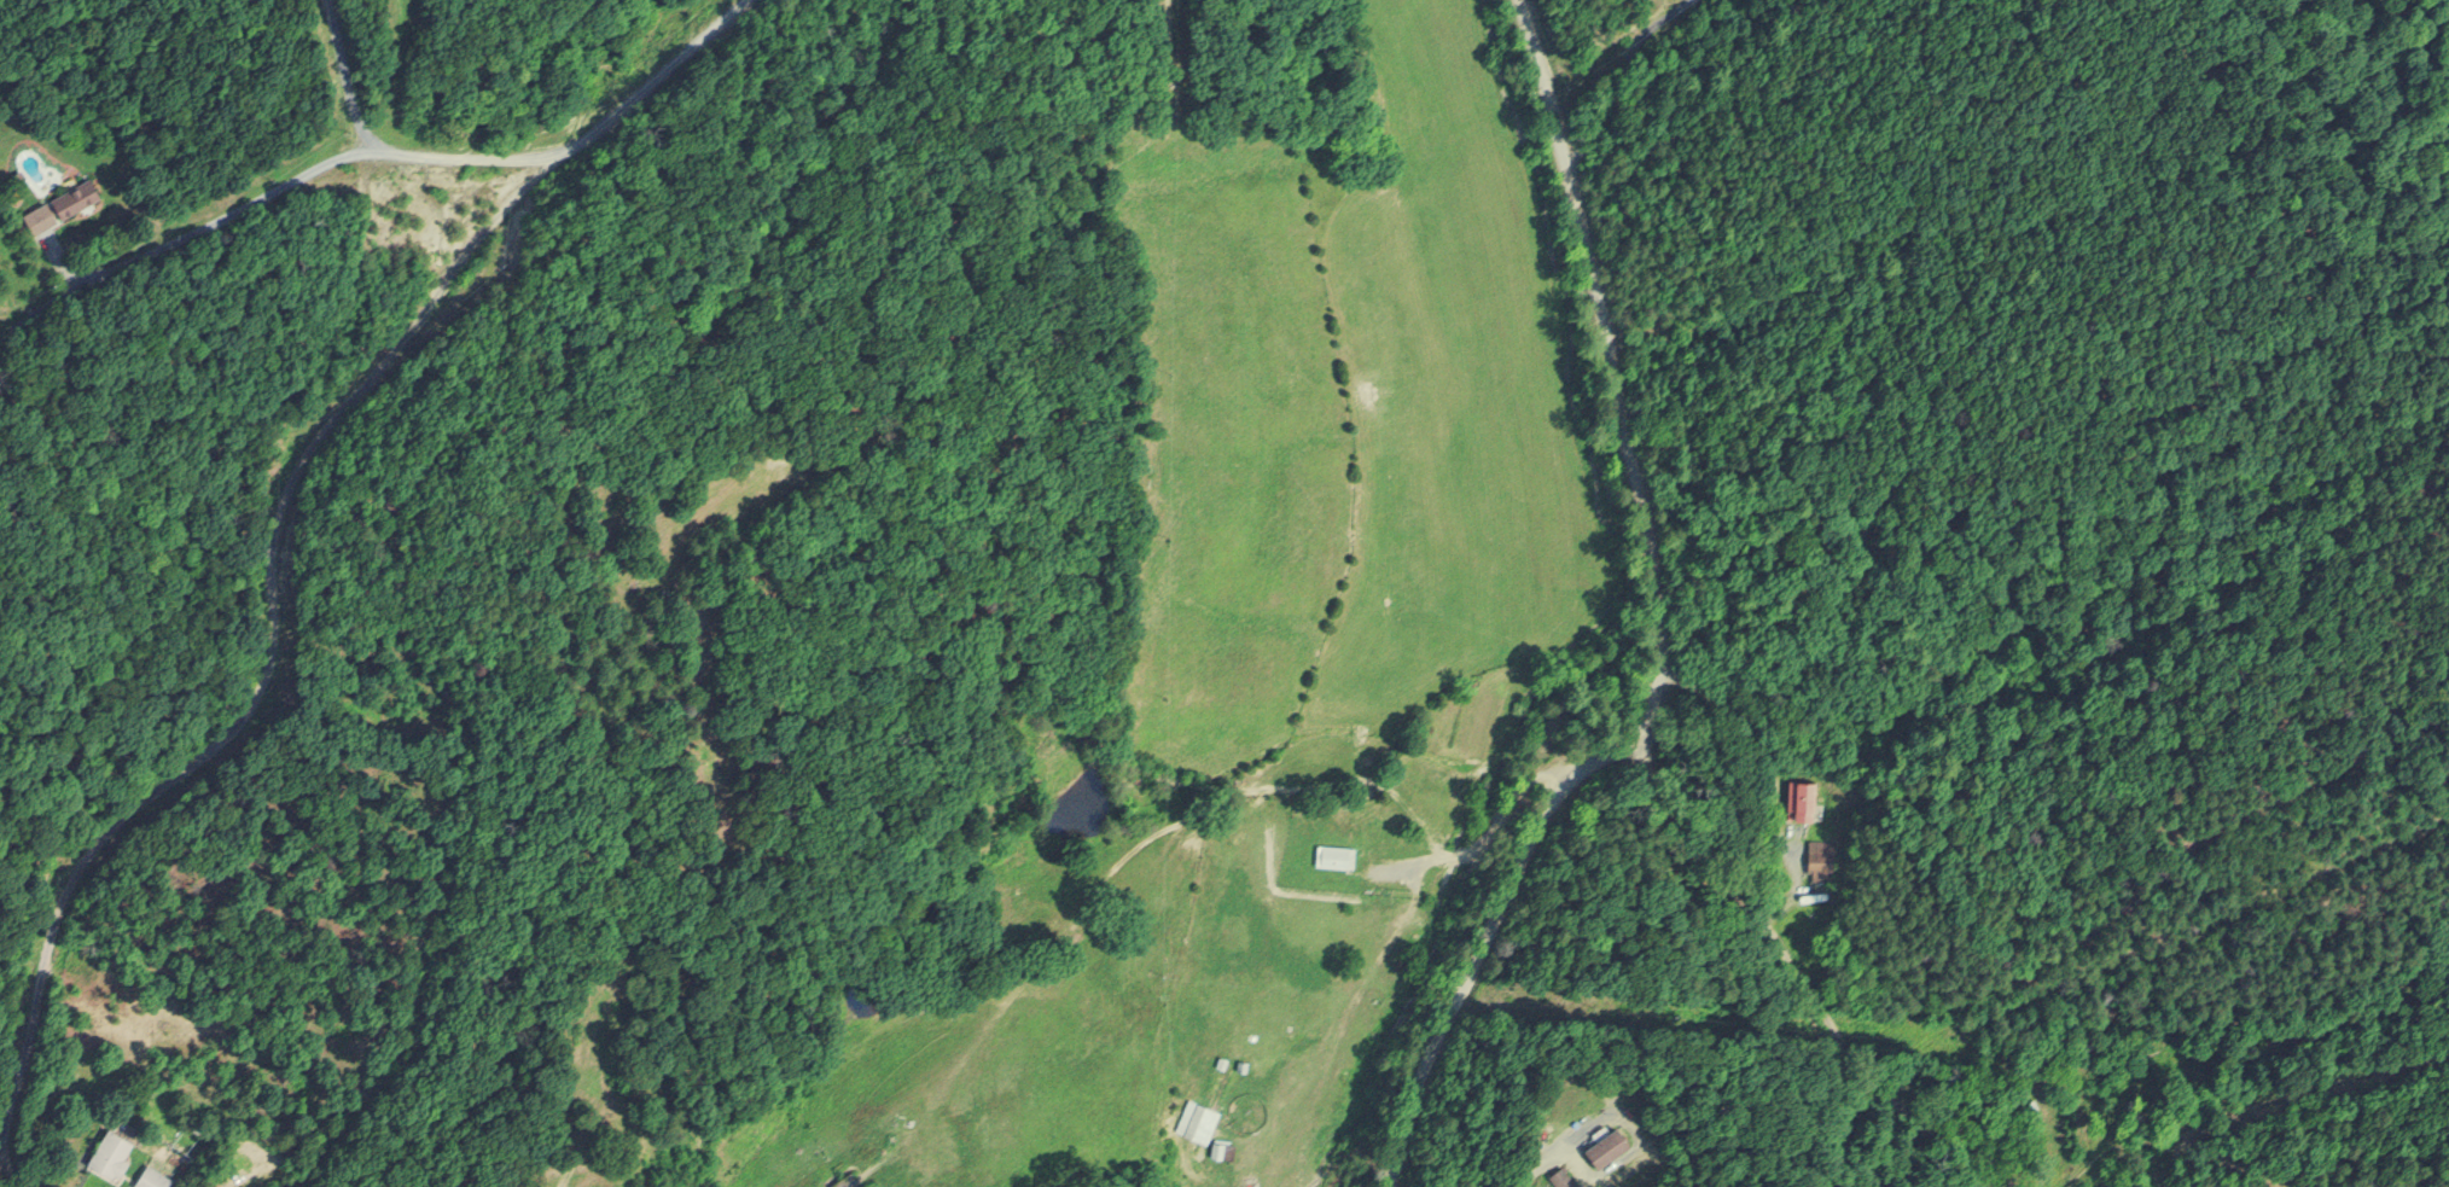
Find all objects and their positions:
park: (636, 37)
road: (1621, 60)
road: (388, 152)
building: (63, 203)
road: (296, 461)
road: (1646, 629)
building: (1807, 797)
building: (1337, 853)
building: (2031, 1107)
building: (1202, 1117)
building: (1604, 1145)
building: (1220, 1147)
building: (112, 1150)
building: (151, 1176)

